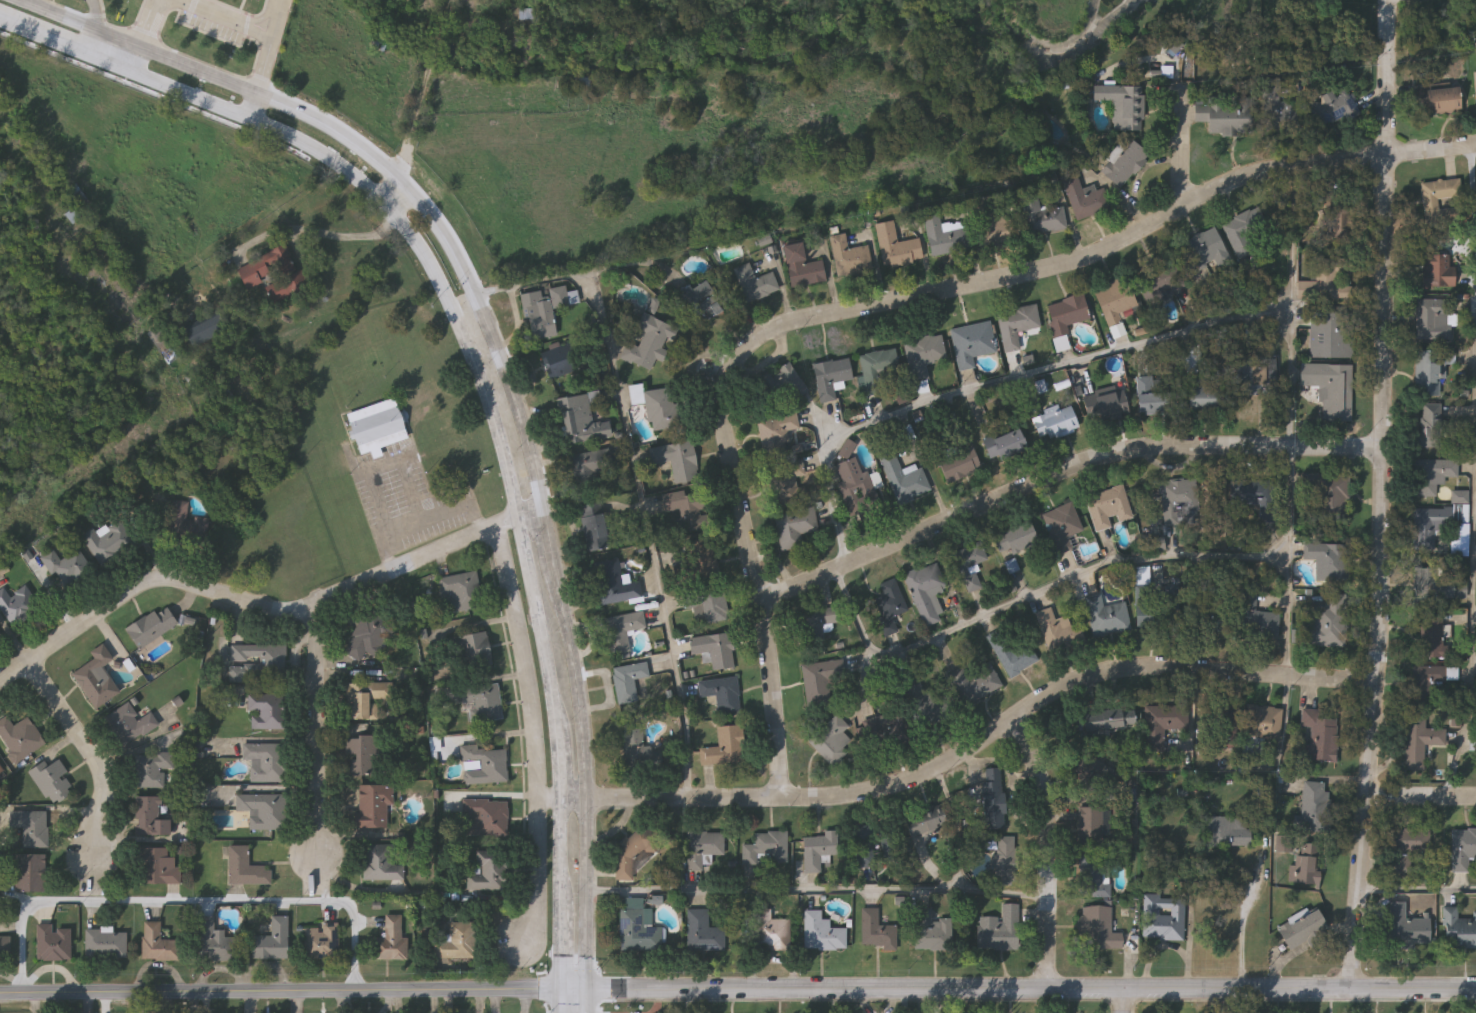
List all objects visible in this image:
road: (56, 14)
road: (94, 14)
road: (230, 17)
road: (147, 23)
road: (42, 37)
road: (116, 38)
road: (89, 41)
road: (134, 59)
road: (266, 60)
road: (107, 62)
building: (1475, 83)
building: (1442, 100)
road: (421, 105)
building: (1125, 105)
building: (1332, 106)
building: (1276, 108)
building: (1224, 114)
road: (333, 134)
road: (319, 151)
road: (1182, 151)
building: (1124, 163)
road: (1473, 193)
building: (1085, 199)
building: (1438, 200)
building: (1041, 215)
building: (1340, 221)
building: (992, 225)
building: (1249, 232)
road: (324, 233)
building: (945, 236)
building: (895, 247)
building: (1203, 250)
building: (850, 257)
building: (801, 266)
building: (1437, 269)
building: (272, 273)
building: (1324, 277)
building: (1159, 280)
building: (754, 283)
building: (700, 300)
building: (1113, 303)
road: (888, 305)
building: (543, 309)
building: (1066, 313)
building: (1433, 317)
building: (1016, 325)
building: (205, 333)
building: (1332, 334)
building: (649, 342)
building: (972, 342)
building: (923, 355)
building: (557, 362)
building: (881, 370)
building: (1432, 372)
building: (830, 376)
building: (783, 383)
road: (994, 383)
building: (1330, 389)
building: (1157, 395)
building: (1204, 397)
road: (516, 398)
building: (656, 405)
building: (1110, 406)
road: (491, 409)
building: (579, 420)
building: (1055, 423)
road: (1292, 423)
building: (1430, 424)
road: (816, 426)
building: (376, 428)
building: (776, 434)
building: (1004, 443)
building: (959, 451)
building: (677, 459)
building: (589, 464)
road: (1061, 473)
building: (1432, 474)
road: (635, 479)
building: (904, 479)
building: (856, 482)
building: (787, 483)
building: (1177, 492)
building: (1255, 496)
building: (1327, 497)
road: (1383, 497)
building: (1108, 507)
building: (684, 509)
road: (532, 515)
road: (426, 518)
building: (177, 520)
road: (508, 522)
building: (1063, 525)
building: (595, 526)
building: (793, 527)
road: (491, 528)
building: (1440, 529)
building: (1015, 537)
building: (105, 541)
building: (1329, 559)
building: (694, 562)
building: (969, 564)
building: (66, 566)
building: (613, 583)
building: (1438, 583)
building: (926, 591)
building: (456, 593)
road: (232, 599)
road: (1029, 599)
building: (889, 603)
building: (706, 604)
building: (1153, 605)
building: (18, 606)
building: (1106, 616)
building: (1208, 616)
building: (1256, 619)
building: (1328, 622)
building: (816, 624)
building: (152, 627)
road: (1472, 627)
road: (542, 630)
building: (1060, 630)
building: (620, 632)
building: (370, 636)
building: (1432, 636)
building: (714, 649)
building: (472, 651)
building: (1010, 653)
building: (257, 662)
building: (94, 678)
building: (821, 678)
building: (628, 681)
building: (977, 683)
building: (1429, 683)
road: (873, 686)
building: (722, 694)
building: (365, 699)
building: (483, 703)
building: (267, 710)
building: (921, 718)
building: (1262, 722)
building: (130, 724)
building: (1161, 724)
building: (1107, 725)
road: (534, 735)
building: (1321, 735)
road: (316, 737)
building: (19, 738)
building: (833, 739)
building: (1420, 741)
building: (724, 746)
building: (633, 748)
road: (583, 749)
road: (977, 750)
road: (91, 755)
building: (363, 755)
building: (265, 760)
building: (485, 765)
building: (152, 769)
building: (0, 772)
road: (560, 773)
building: (51, 778)
road: (1422, 797)
building: (992, 798)
road: (549, 801)
building: (373, 805)
building: (1313, 805)
building: (263, 810)
building: (151, 817)
building: (485, 817)
building: (928, 824)
building: (1090, 827)
building: (32, 828)
building: (1227, 831)
building: (873, 847)
building: (766, 848)
building: (1407, 848)
building: (1462, 849)
building: (630, 850)
building: (705, 850)
building: (818, 850)
road: (1046, 853)
road: (561, 858)
building: (1005, 860)
building: (381, 863)
building: (1308, 864)
building: (158, 867)
building: (246, 869)
building: (31, 872)
building: (487, 874)
building: (1093, 875)
road: (816, 891)
road: (1418, 892)
road: (189, 903)
building: (1164, 917)
road: (1242, 924)
building: (1406, 926)
building: (1096, 929)
building: (1302, 929)
building: (1458, 929)
building: (876, 931)
building: (995, 931)
building: (637, 932)
building: (702, 932)
building: (771, 932)
building: (934, 932)
building: (823, 933)
building: (272, 941)
building: (215, 942)
building: (321, 942)
building: (390, 942)
building: (456, 942)
building: (54, 943)
building: (5, 945)
building: (106, 945)
building: (159, 945)
road: (561, 952)
traffic signals: (561, 990)
road: (574, 990)
traffic signals: (587, 990)
road: (1031, 990)
road: (280, 992)
road: (561, 1001)
road: (586, 1001)
road: (1124, 1002)

